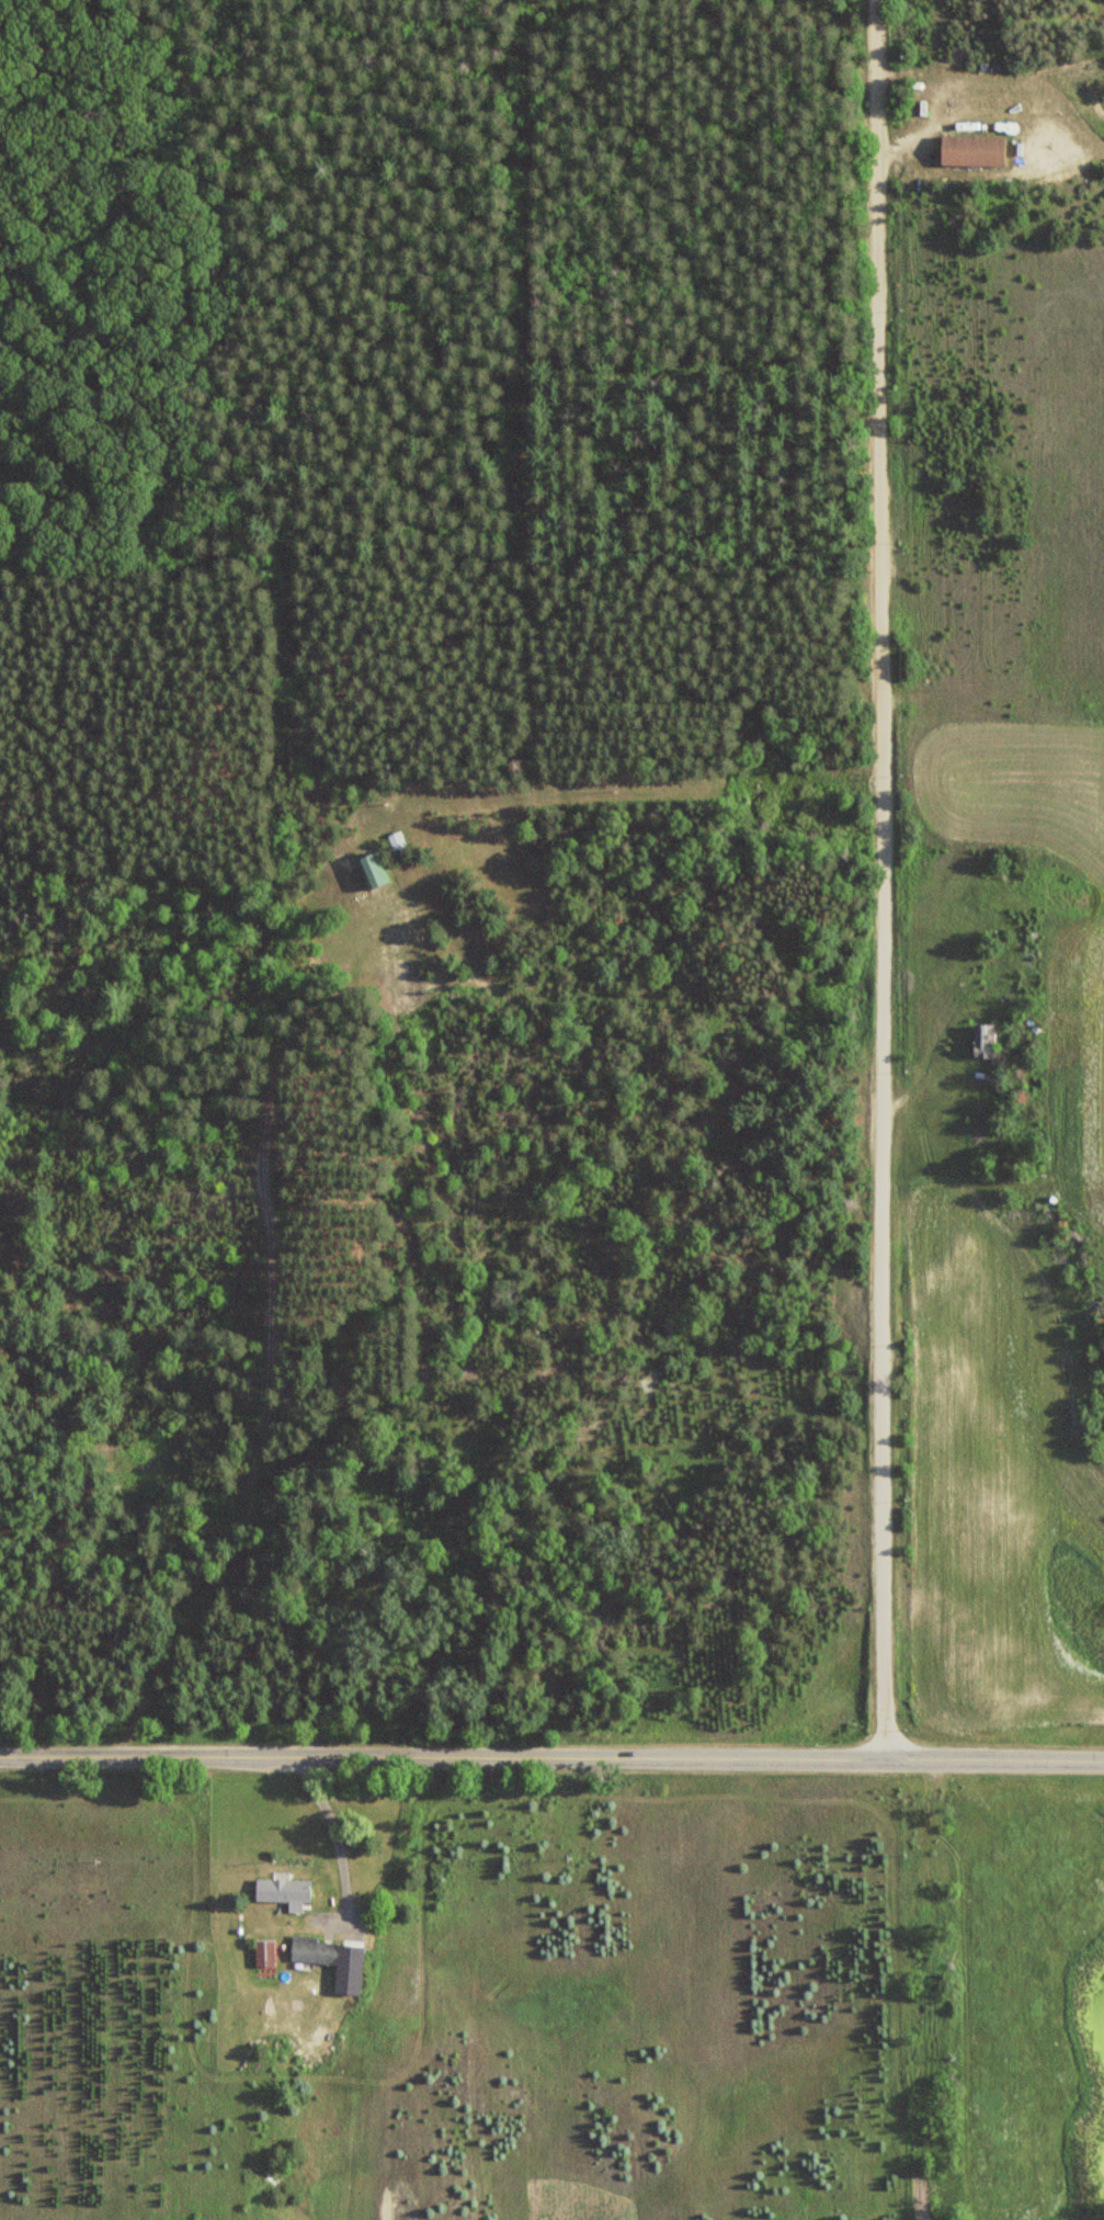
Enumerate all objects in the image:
building: (972, 150)
building: (373, 869)
road: (881, 877)
building: (985, 1040)
road: (551, 1754)
building: (284, 1890)
building: (265, 1952)
building: (333, 1960)

